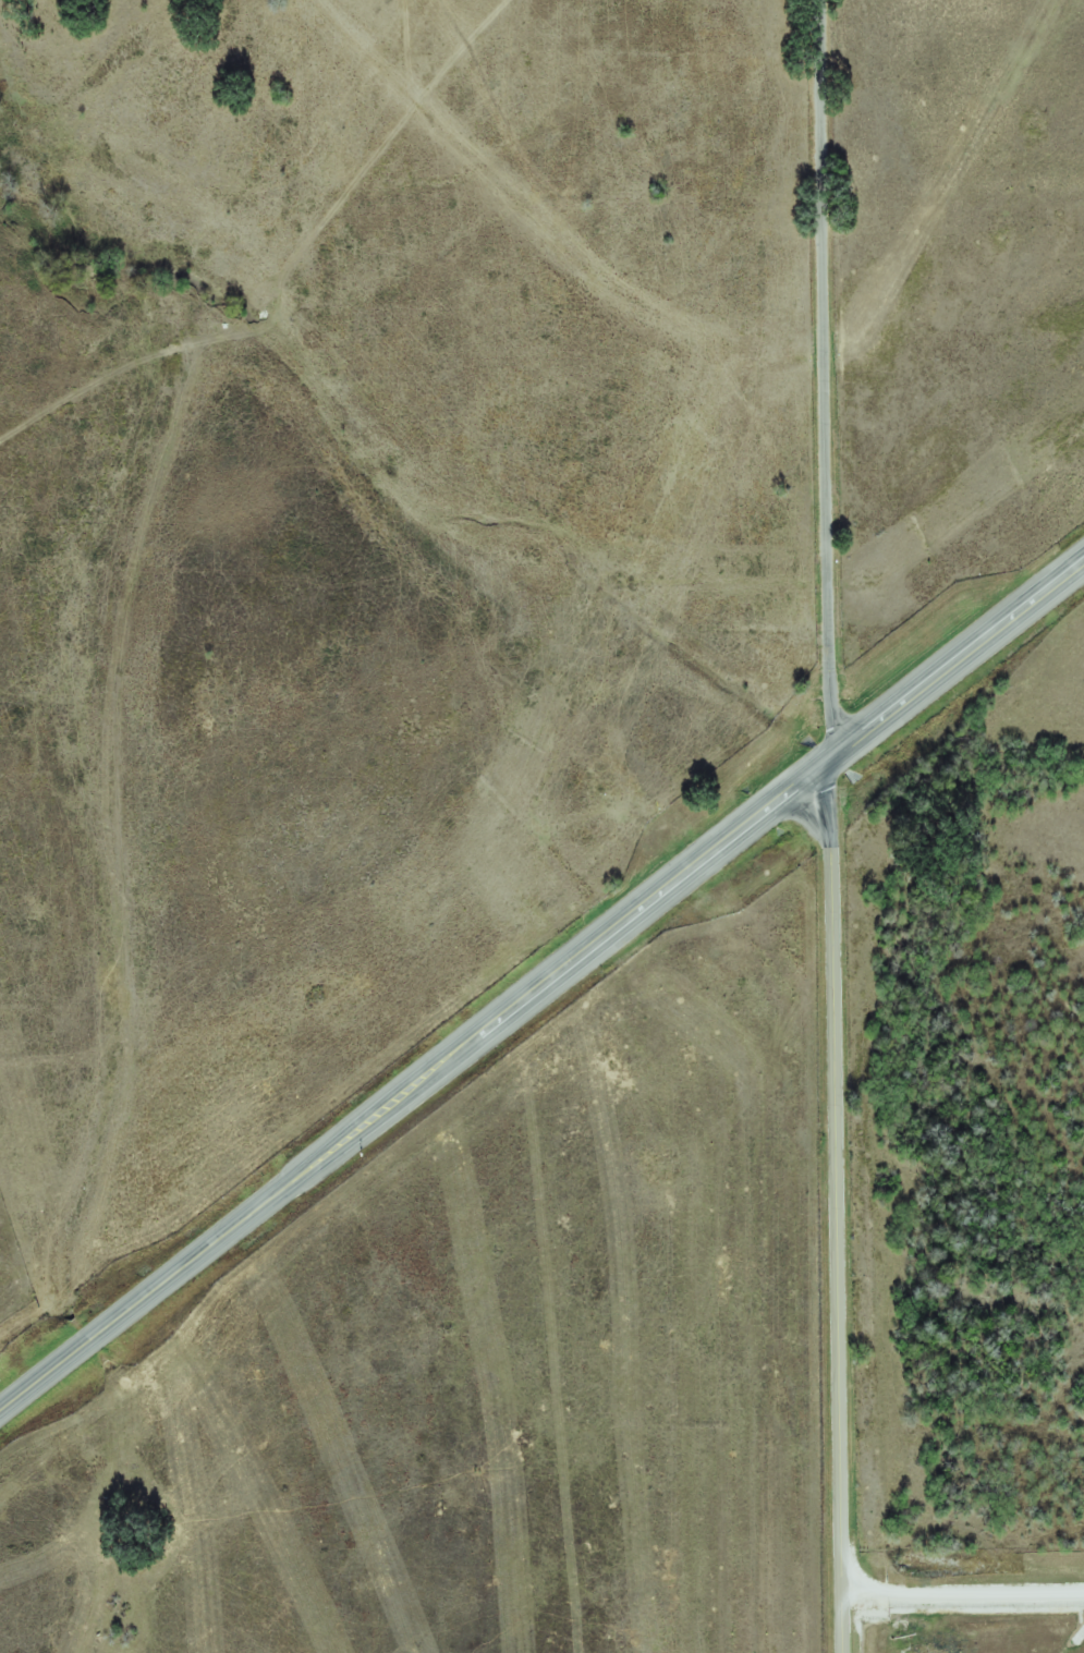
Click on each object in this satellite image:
road: (829, 378)
road: (541, 987)
road: (841, 1204)

